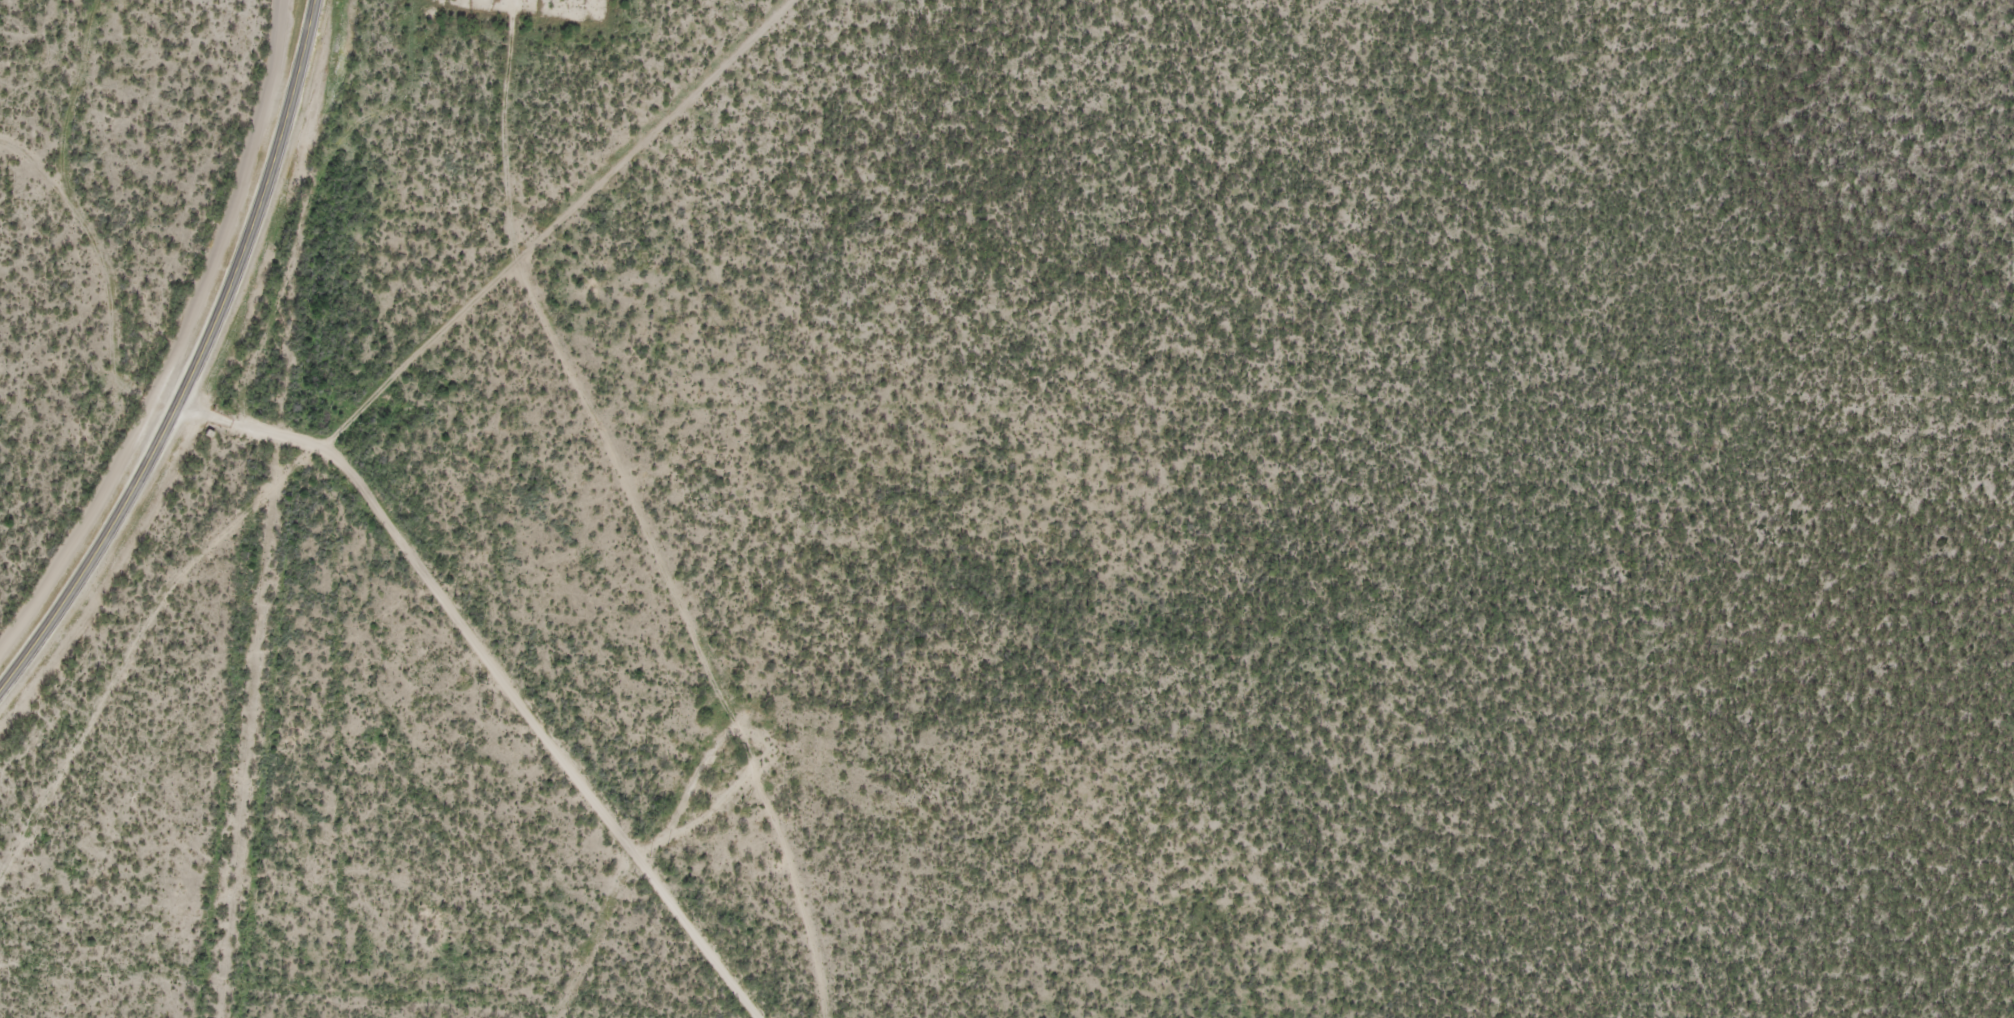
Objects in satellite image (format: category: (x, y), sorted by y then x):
road: (193, 362)
road: (340, 431)
road: (253, 727)
road: (478, 727)

